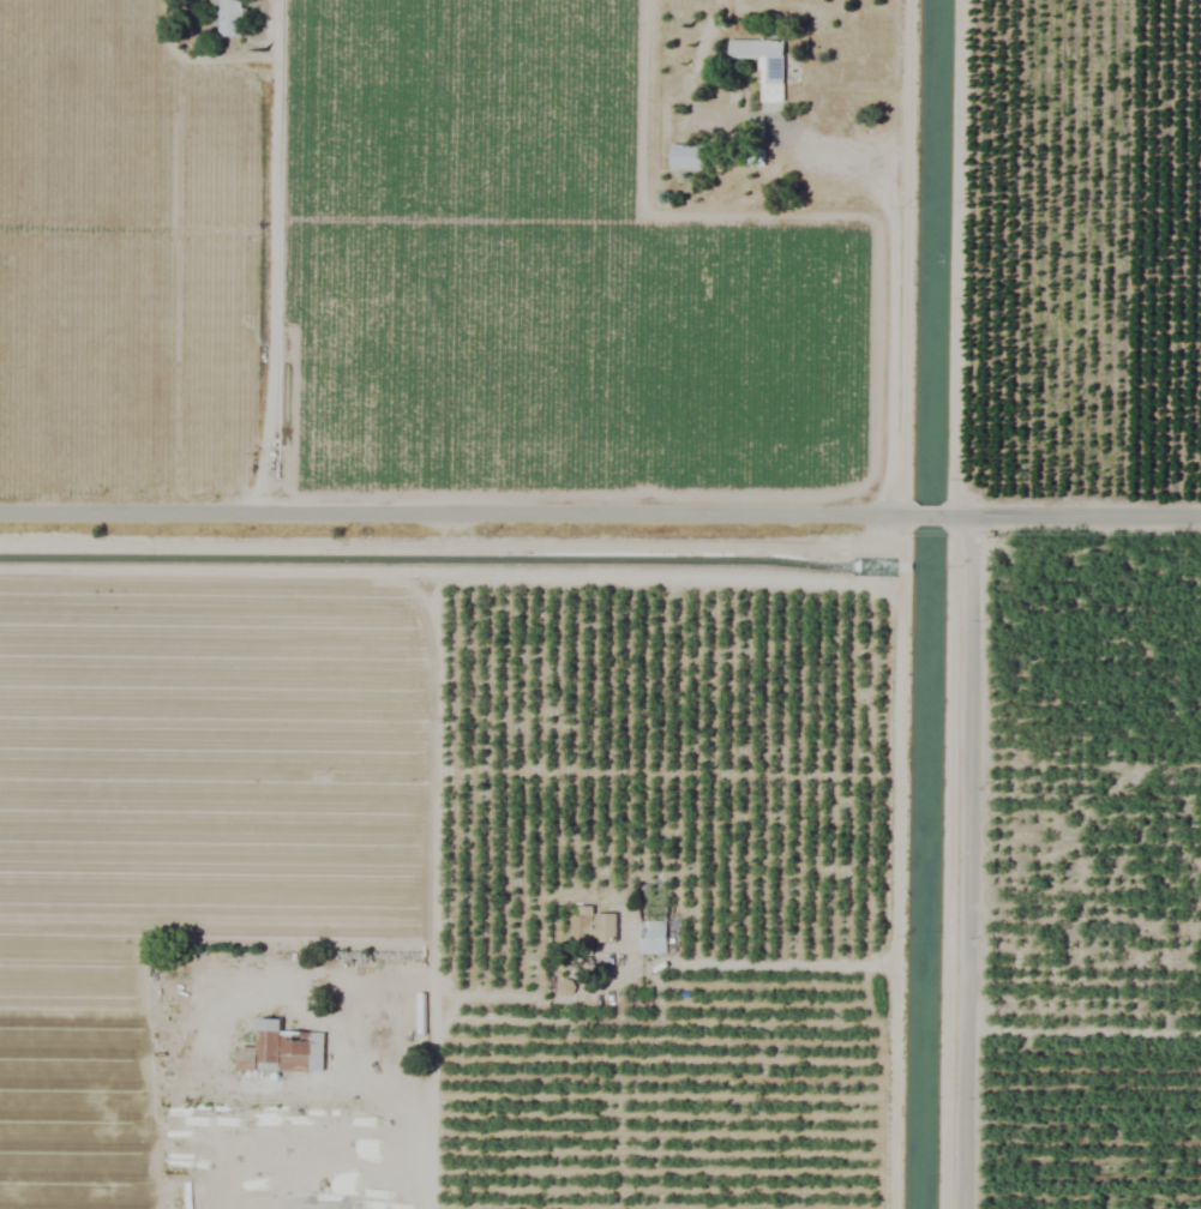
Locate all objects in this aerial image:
building: (227, 17)
building: (762, 66)
building: (686, 157)
road: (889, 182)
road: (275, 254)
road: (600, 510)
road: (905, 536)
road: (905, 571)
road: (457, 579)
crop: (600, 604)
road: (967, 861)
road: (897, 896)
building: (592, 927)
building: (651, 938)
road: (665, 969)
building: (564, 987)
building: (282, 1049)
road: (438, 1107)

